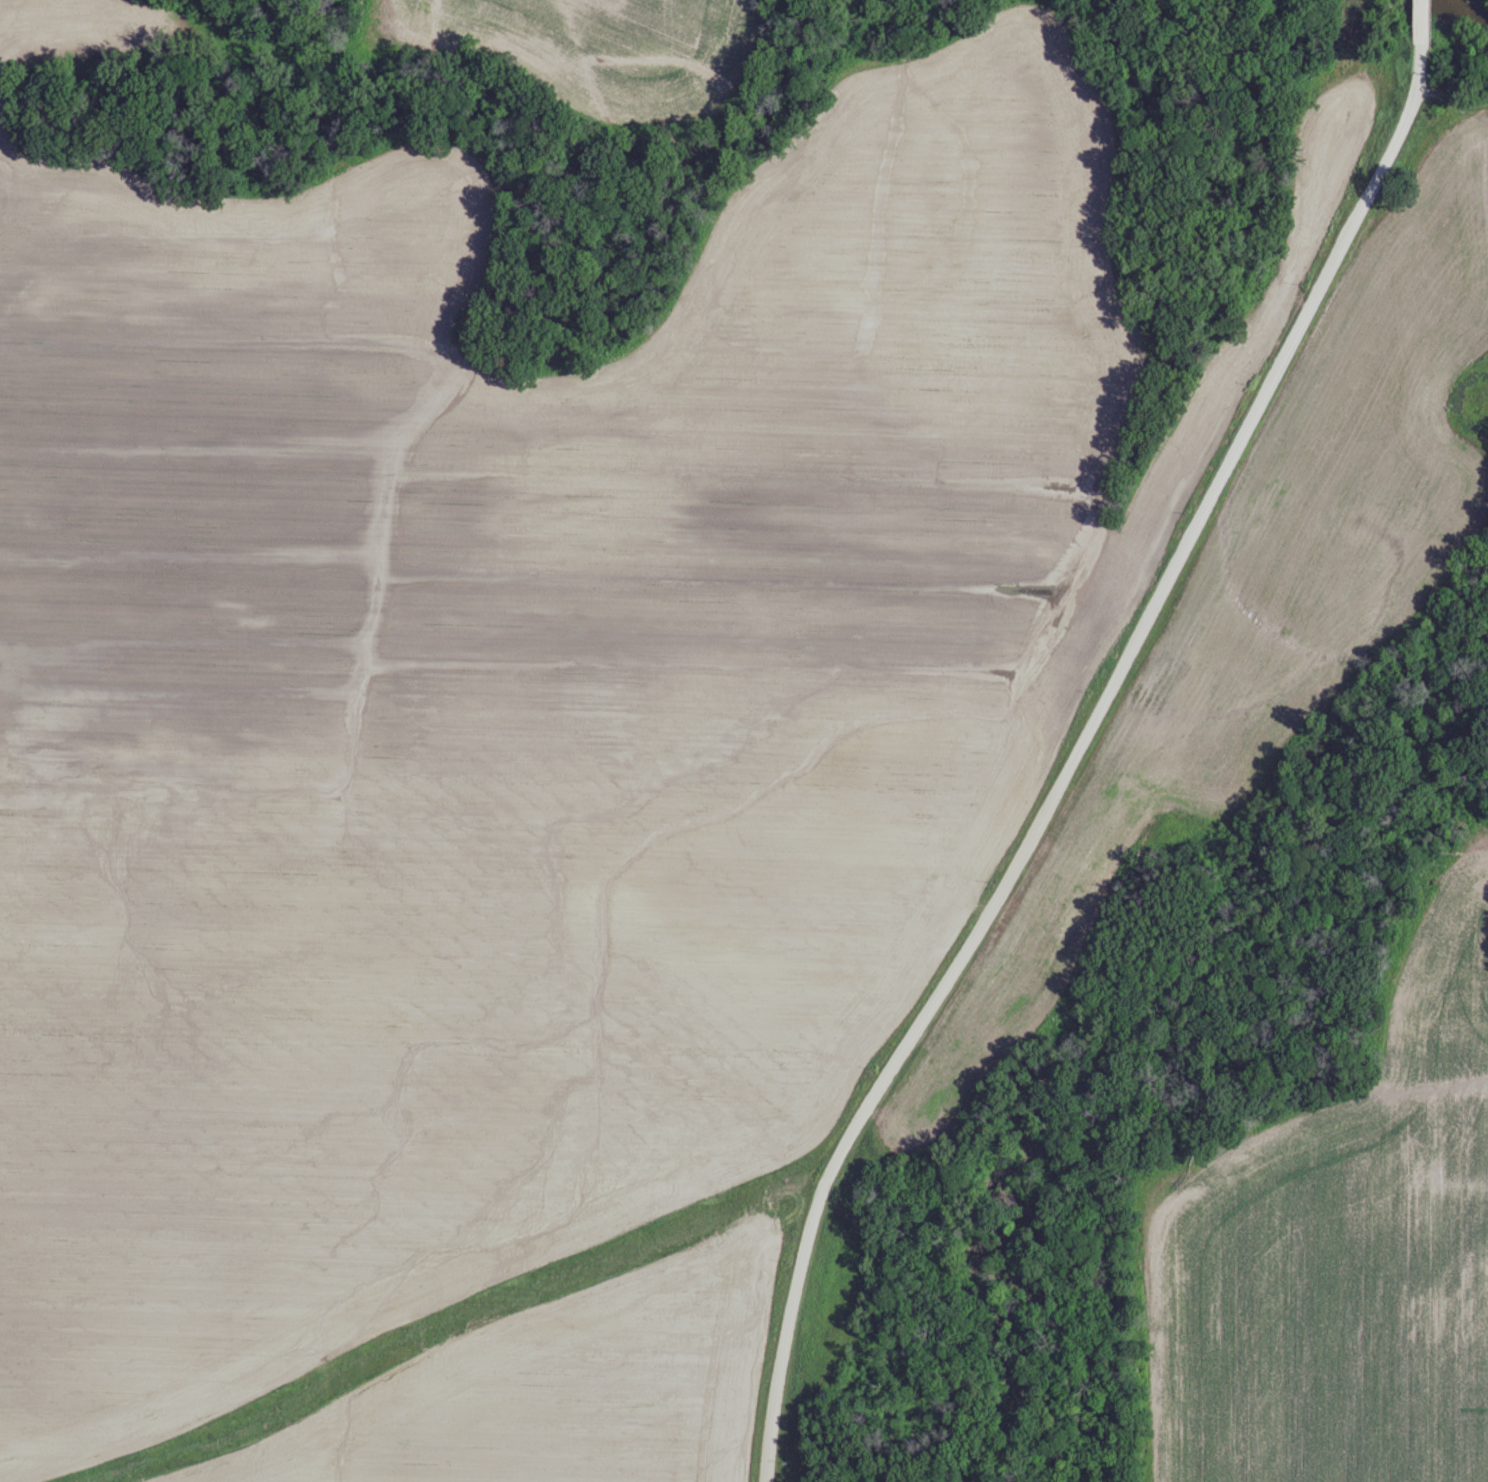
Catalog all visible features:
road: (1082, 740)

